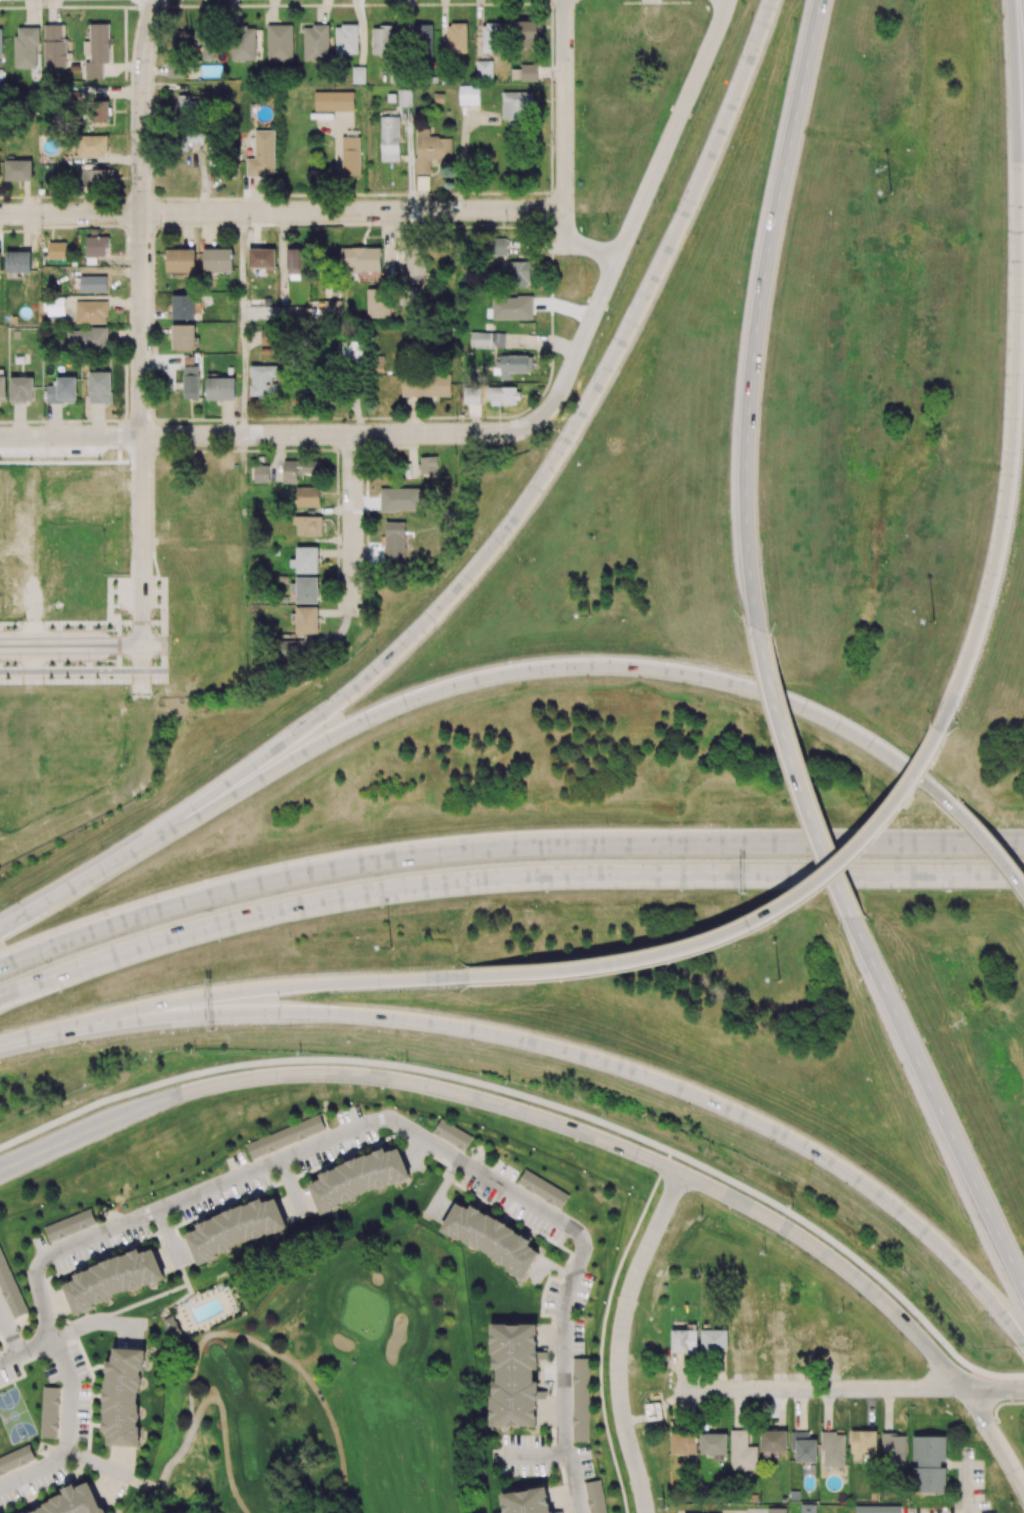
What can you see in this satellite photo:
road: (671, 129)
road: (563, 147)
street lamp: (891, 193)
road: (281, 211)
road: (142, 217)
road: (758, 317)
road: (582, 339)
road: (344, 434)
road: (71, 436)
road: (353, 525)
road: (143, 538)
street lamp: (589, 615)
street lamp: (934, 620)
road: (137, 622)
road: (59, 623)
road: (119, 627)
road: (71, 641)
road: (118, 643)
road: (65, 666)
road: (82, 671)
road: (142, 717)
road: (433, 783)
road: (799, 783)
traffic signals: (141, 793)
road: (69, 811)
road: (865, 842)
road: (1016, 844)
road: (680, 875)
road: (829, 875)
road: (973, 876)
street lamp: (391, 947)
road: (42, 948)
road: (377, 963)
street lamp: (778, 980)
road: (602, 1024)
traffic signals: (135, 1063)
road: (67, 1088)
road: (454, 1092)
road: (544, 1098)
road: (938, 1104)
road: (454, 1158)
road: (292, 1187)
road: (444, 1188)
road: (122, 1225)
road: (169, 1236)
road: (558, 1269)
street lamp: (988, 1322)
road: (96, 1324)
building: (171, 1328)
road: (9, 1334)
road: (620, 1343)
road: (1023, 1346)
road: (36, 1349)
road: (280, 1355)
road: (9, 1360)
road: (564, 1366)
road: (892, 1384)
road: (993, 1388)
road: (763, 1389)
park: (331, 1391)
road: (71, 1395)
street lamp: (952, 1401)
street lamp: (839, 1403)
building: (653, 1414)
park: (16, 1417)
road: (996, 1417)
road: (224, 1434)
road: (987, 1450)
road: (536, 1457)
road: (175, 1462)
road: (115, 1472)
road: (35, 1473)
road: (575, 1484)
road: (969, 1487)
road: (172, 1490)
building: (188, 1498)
road: (167, 1501)
road: (151, 1502)
road: (761, 1512)

